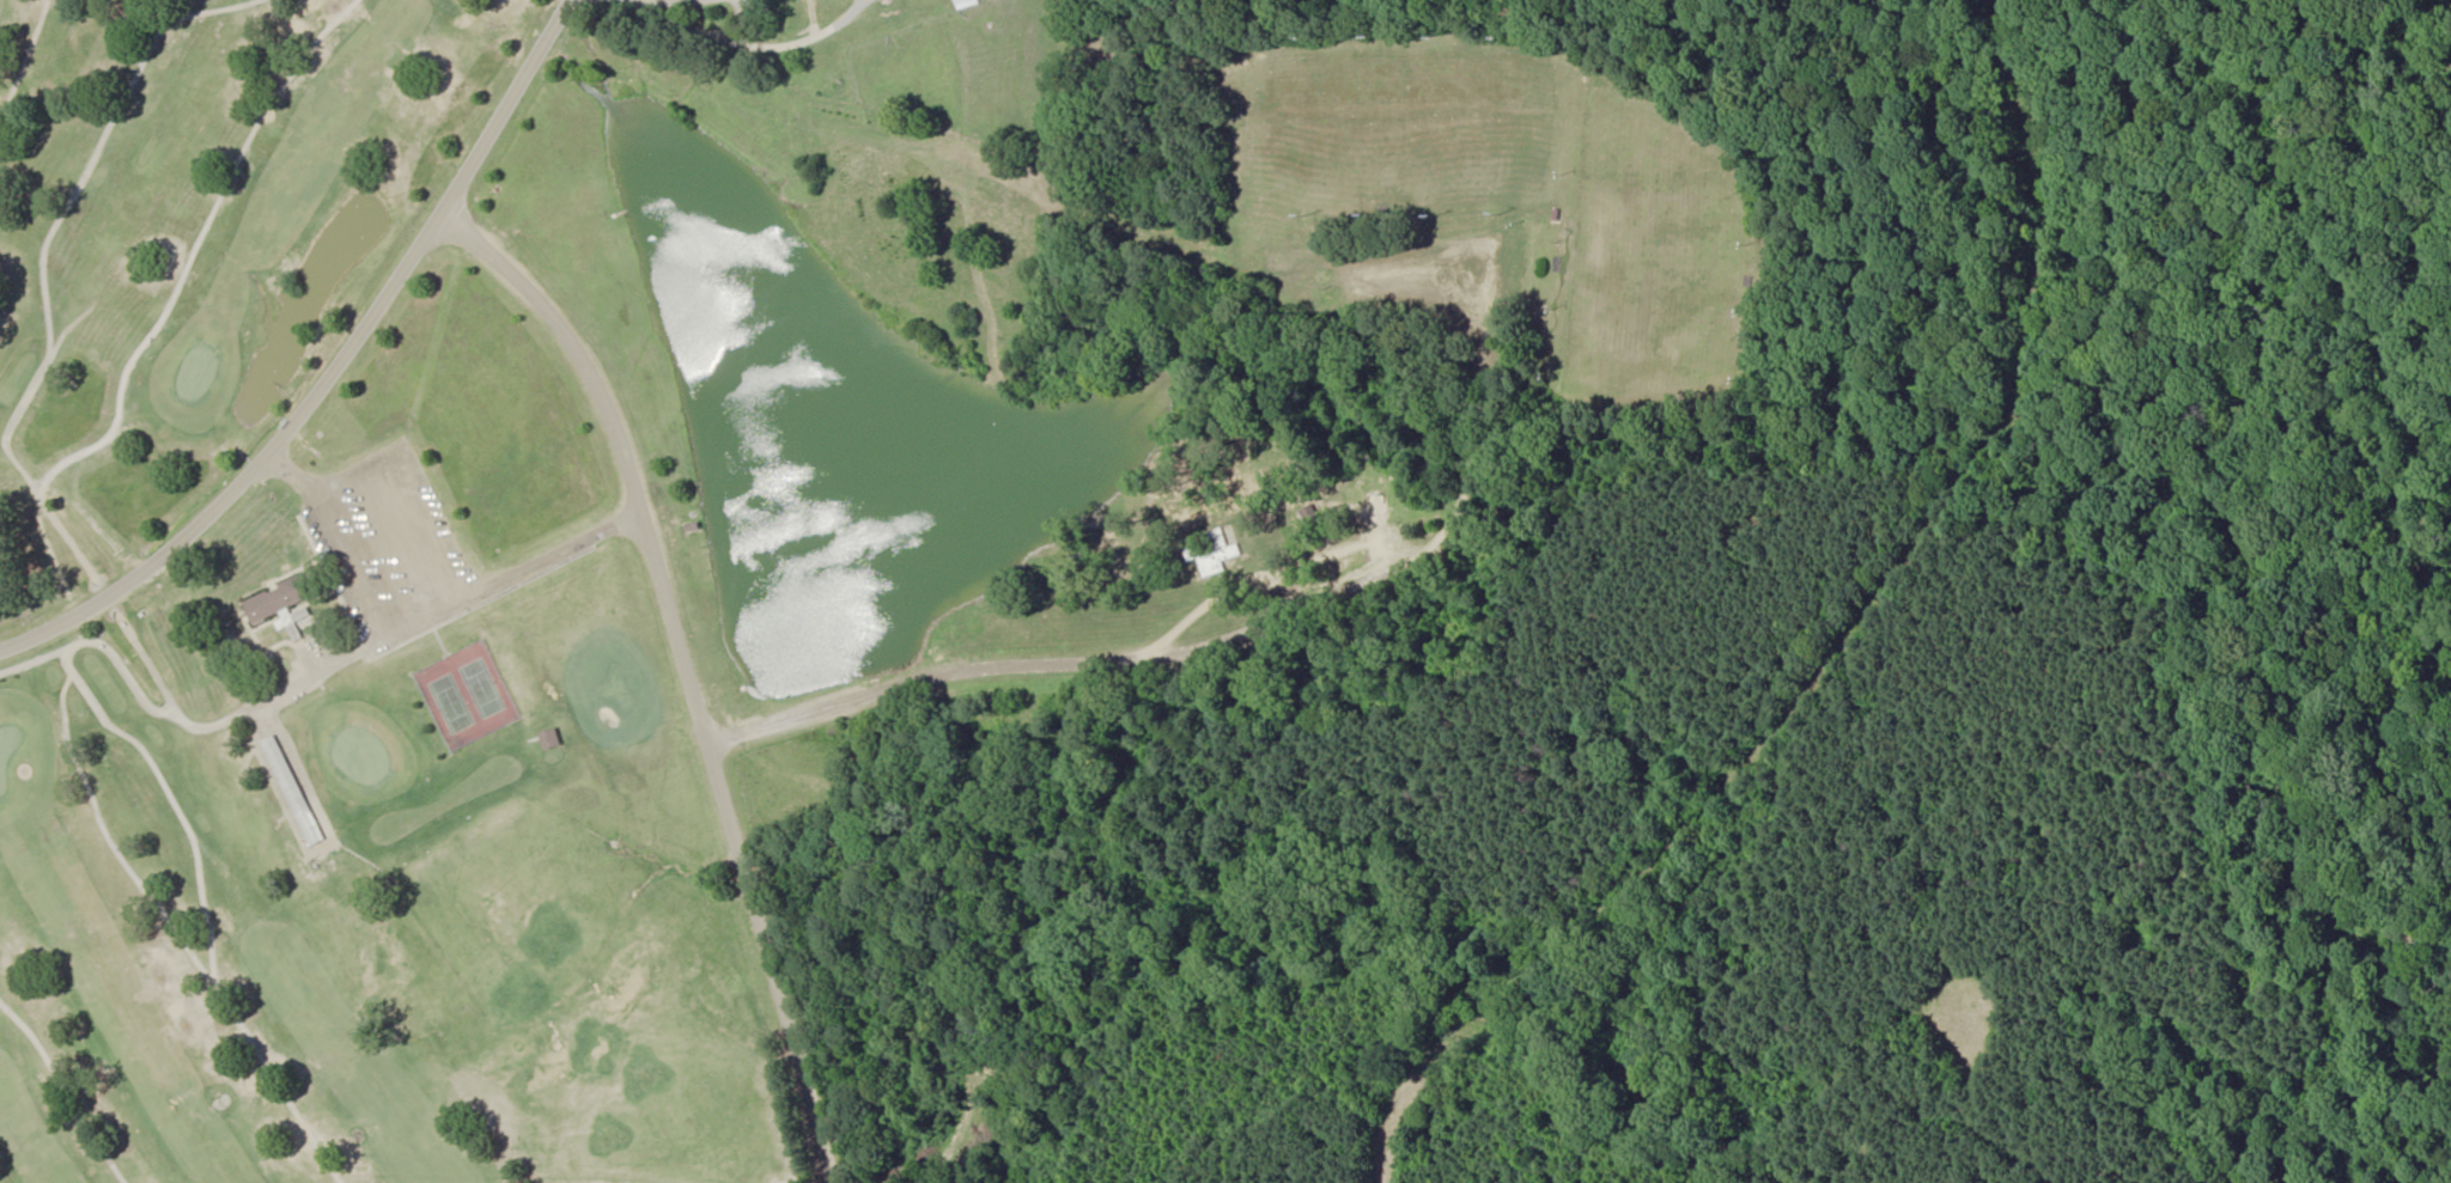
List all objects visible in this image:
building: (969, 2)
road: (328, 362)
building: (1214, 550)
building: (279, 600)
park: (317, 652)
road: (687, 665)
building: (554, 737)
building: (296, 789)

